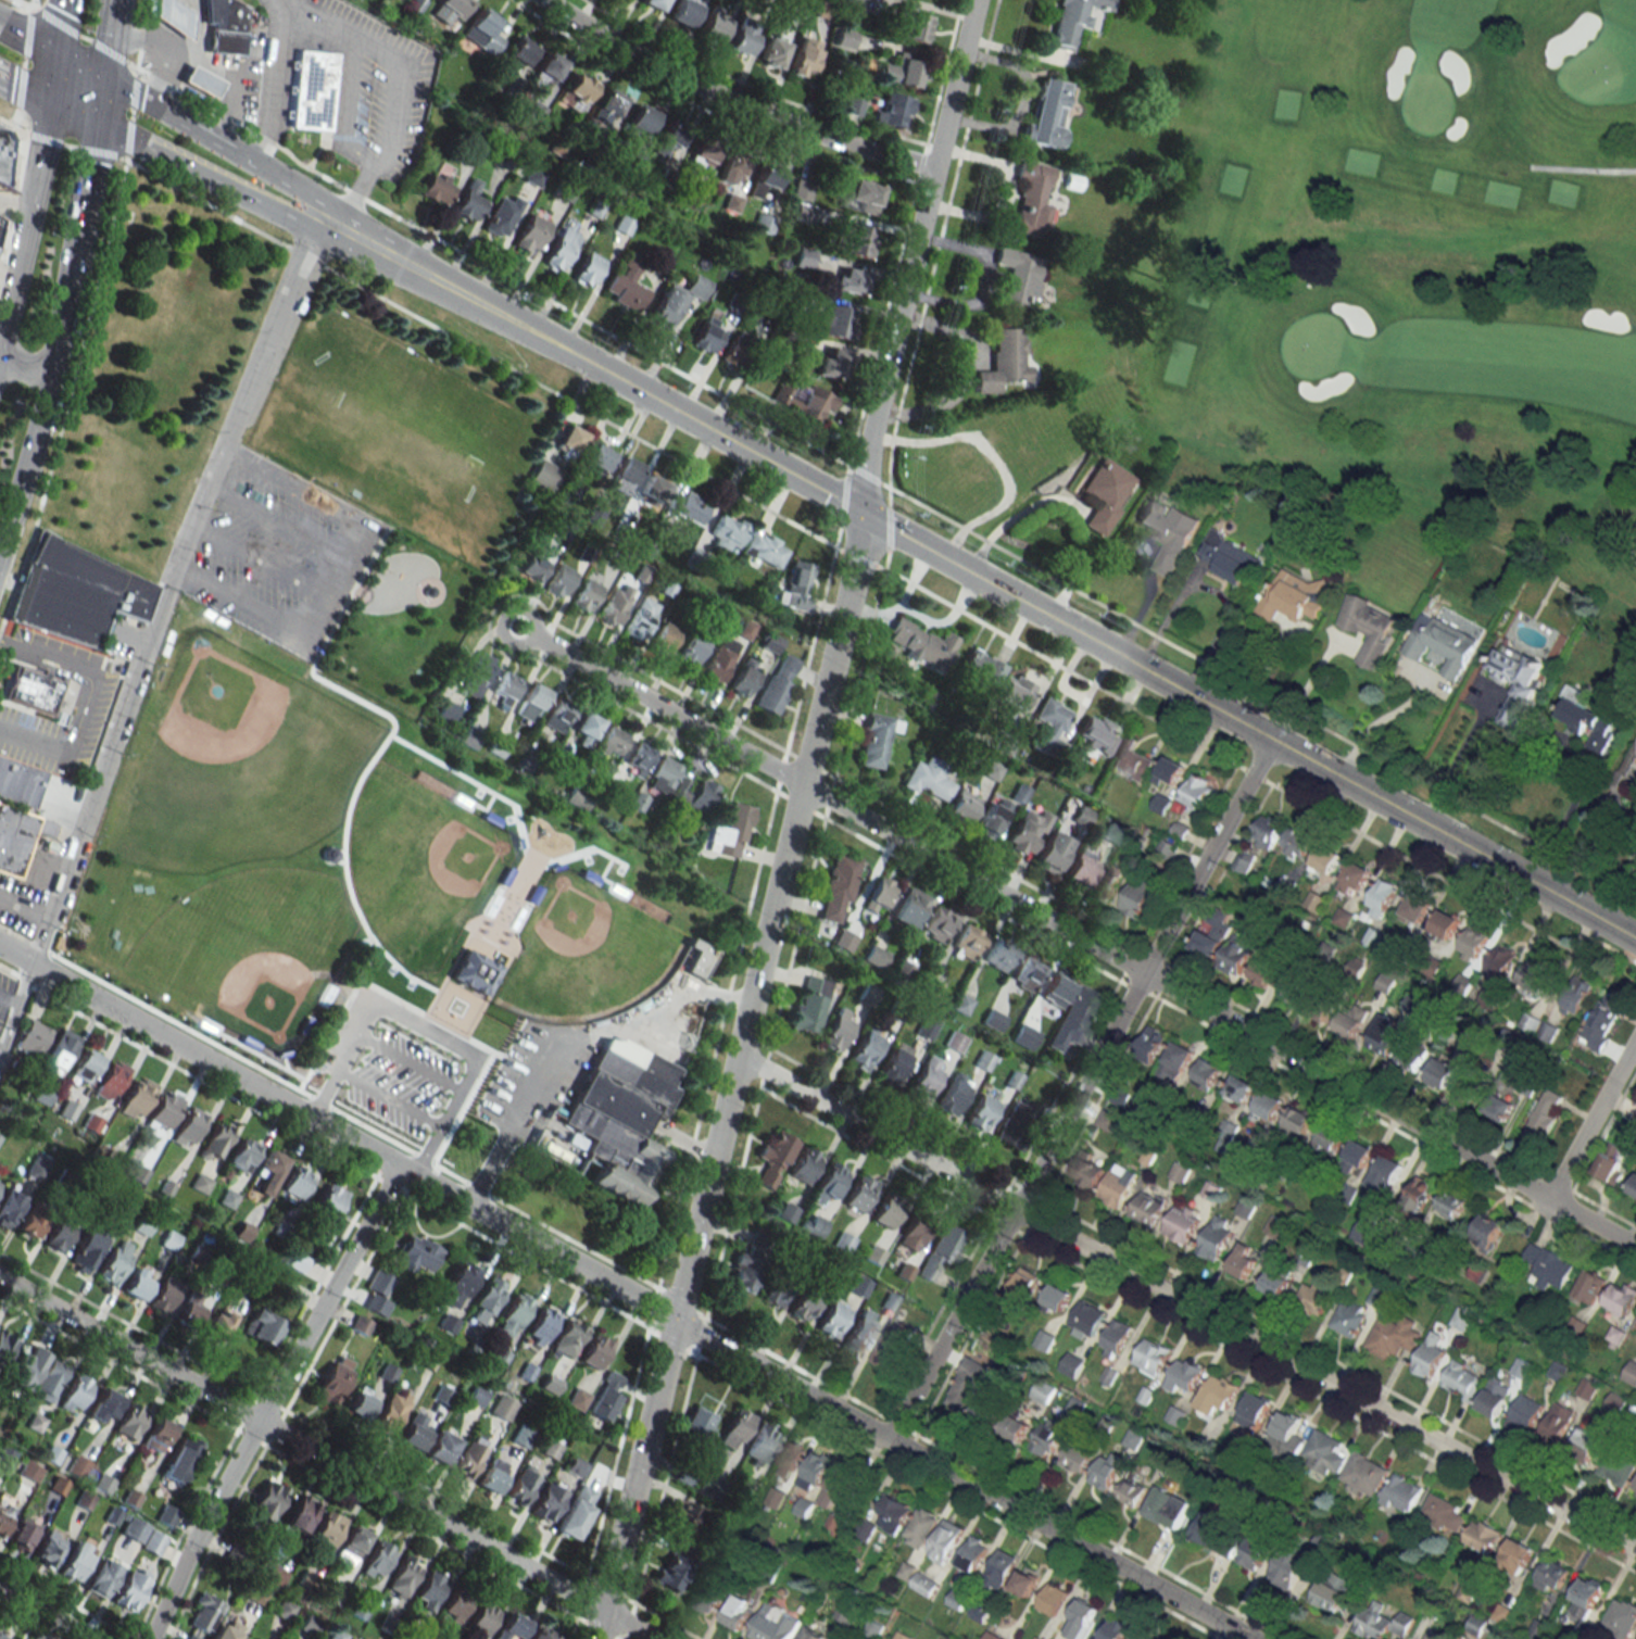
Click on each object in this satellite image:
road: (279, 1)
building: (856, 1)
building: (653, 3)
building: (451, 9)
building: (684, 12)
building: (794, 13)
building: (175, 17)
building: (1073, 20)
building: (714, 25)
building: (913, 26)
road: (58, 27)
building: (226, 27)
building: (483, 31)
road: (349, 36)
building: (845, 38)
road: (27, 39)
road: (108, 39)
building: (741, 40)
building: (520, 50)
building: (772, 52)
traffic signals: (54, 54)
building: (804, 55)
road: (78, 66)
building: (548, 67)
building: (899, 71)
road: (51, 78)
traffic signals: (102, 78)
building: (203, 83)
road: (24, 89)
building: (578, 89)
building: (312, 90)
road: (99, 101)
traffic signals: (48, 102)
road: (731, 102)
building: (853, 105)
building: (607, 106)
building: (893, 110)
road: (72, 113)
building: (1046, 114)
road: (169, 116)
building: (640, 121)
traffic signals: (96, 124)
road: (45, 127)
building: (669, 138)
road: (61, 142)
building: (704, 153)
building: (4, 154)
road: (1581, 166)
building: (731, 169)
building: (532, 175)
building: (765, 178)
road: (209, 180)
road: (288, 182)
building: (436, 188)
building: (864, 196)
building: (1032, 201)
building: (467, 202)
building: (804, 203)
building: (501, 214)
building: (764, 222)
building: (2, 225)
building: (529, 234)
building: (858, 240)
road: (20, 241)
building: (559, 248)
road: (377, 251)
road: (911, 255)
building: (803, 257)
park: (1408, 262)
road: (1225, 267)
building: (586, 268)
building: (1020, 274)
building: (847, 281)
building: (625, 286)
building: (672, 301)
building: (835, 320)
road: (55, 335)
building: (706, 336)
building: (734, 349)
building: (1004, 360)
road: (8, 363)
building: (829, 363)
road: (32, 370)
road: (961, 373)
road: (643, 394)
building: (802, 400)
park: (397, 427)
building: (1028, 447)
road: (991, 457)
building: (594, 462)
building: (621, 471)
building: (542, 475)
road: (292, 484)
building: (652, 488)
building: (1105, 494)
road: (1064, 500)
building: (687, 506)
traffic signals: (859, 513)
road: (275, 521)
building: (1169, 531)
building: (726, 532)
building: (764, 549)
parking lot: (279, 555)
building: (1232, 558)
road: (256, 562)
building: (530, 566)
road: (334, 579)
building: (557, 580)
road: (164, 585)
building: (795, 585)
road: (1215, 591)
building: (74, 594)
building: (584, 594)
building: (1294, 596)
road: (239, 601)
road: (1141, 602)
building: (612, 607)
building: (639, 618)
building: (1369, 628)
building: (664, 636)
building: (769, 641)
building: (1447, 641)
building: (921, 644)
building: (691, 650)
building: (719, 659)
building: (976, 669)
building: (475, 674)
building: (743, 677)
building: (1517, 680)
building: (777, 683)
building: (505, 684)
building: (32, 688)
road: (1301, 689)
building: (1014, 692)
building: (531, 698)
road: (87, 702)
building: (445, 711)
building: (555, 715)
building: (1586, 720)
road: (1381, 722)
building: (1048, 724)
road: (1247, 726)
building: (586, 727)
building: (1096, 733)
building: (874, 739)
building: (611, 742)
building: (498, 745)
building: (637, 757)
road: (1455, 757)
building: (1132, 758)
park: (234, 765)
building: (1173, 769)
building: (1626, 772)
building: (662, 776)
building: (927, 780)
building: (17, 782)
building: (1199, 792)
building: (695, 796)
building: (960, 805)
park: (400, 810)
building: (990, 817)
building: (1181, 824)
building: (1025, 830)
road: (1558, 830)
building: (729, 832)
building: (1268, 832)
building: (17, 836)
building: (1298, 843)
building: (1050, 852)
building: (1327, 859)
park: (418, 867)
building: (1080, 867)
building: (1355, 875)
building: (1110, 879)
building: (836, 887)
road: (1619, 891)
building: (878, 895)
building: (1382, 896)
building: (1138, 897)
building: (1316, 902)
road: (24, 905)
building: (907, 907)
building: (1414, 909)
building: (936, 923)
building: (1445, 925)
road: (1066, 932)
building: (1212, 935)
building: (966, 941)
building: (1472, 944)
park: (248, 951)
park: (579, 953)
building: (1237, 955)
building: (874, 956)
building: (996, 956)
building: (696, 958)
building: (1501, 961)
building: (1267, 966)
building: (902, 970)
building: (473, 971)
building: (1025, 972)
building: (1535, 979)
building: (930, 986)
building: (1055, 989)
building: (1295, 991)
road: (10, 993)
building: (1577, 996)
building: (809, 1004)
building: (960, 1004)
building: (1324, 1005)
road: (15, 1009)
building: (1352, 1019)
building: (992, 1020)
building: (1071, 1020)
building: (1602, 1021)
building: (924, 1026)
building: (838, 1029)
road: (426, 1032)
building: (1384, 1033)
building: (1023, 1036)
building: (33, 1037)
building: (954, 1042)
road: (2, 1043)
building: (1150, 1045)
building: (60, 1049)
building: (865, 1049)
building: (1412, 1058)
road: (734, 1061)
building: (895, 1061)
building: (1178, 1061)
building: (85, 1066)
building: (1442, 1073)
building: (1208, 1074)
building: (926, 1076)
building: (111, 1080)
building: (1472, 1084)
building: (1241, 1088)
road: (1080, 1089)
building: (953, 1094)
building: (137, 1097)
building: (1118, 1097)
building: (1269, 1106)
building: (1500, 1106)
building: (164, 1110)
building: (980, 1112)
building: (1546, 1114)
building: (620, 1117)
building: (1108, 1120)
road: (1593, 1120)
building: (1299, 1121)
building: (91, 1122)
building: (188, 1127)
building: (1012, 1129)
building: (1330, 1138)
building: (215, 1140)
building: (242, 1153)
building: (1359, 1155)
building: (772, 1156)
building: (1614, 1162)
building: (803, 1164)
building: (37, 1167)
building: (1087, 1169)
building: (266, 1172)
building: (1385, 1174)
building: (0, 1178)
building: (295, 1182)
building: (828, 1184)
building: (1118, 1185)
building: (1634, 1188)
building: (1421, 1192)
building: (859, 1193)
building: (328, 1201)
building: (1450, 1205)
building: (9, 1206)
building: (1148, 1208)
building: (1246, 1208)
building: (888, 1210)
building: (33, 1221)
building: (1182, 1223)
building: (811, 1225)
building: (1276, 1225)
building: (1488, 1231)
building: (59, 1235)
building: (1217, 1237)
building: (908, 1239)
building: (843, 1241)
building: (88, 1247)
building: (941, 1250)
building: (417, 1253)
building: (1245, 1260)
building: (115, 1261)
building: (1549, 1268)
building: (743, 1272)
building: (137, 1284)
building: (1027, 1284)
building: (1276, 1284)
building: (458, 1285)
building: (1590, 1285)
building: (858, 1286)
road: (624, 1290)
building: (377, 1291)
building: (773, 1293)
building: (164, 1296)
building: (1058, 1297)
building: (1622, 1297)
building: (1313, 1298)
building: (486, 1300)
road: (1186, 1303)
building: (803, 1304)
building: (190, 1312)
building: (513, 1314)
building: (1349, 1317)
building: (831, 1320)
building: (1086, 1320)
building: (217, 1323)
building: (358, 1324)
building: (540, 1326)
building: (262, 1327)
building: (860, 1331)
building: (1393, 1336)
building: (1117, 1338)
building: (566, 1339)
building: (1045, 1339)
building: (4, 1345)
building: (894, 1345)
building: (594, 1350)
building: (1153, 1356)
building: (1430, 1358)
building: (25, 1367)
building: (1631, 1373)
building: (1184, 1376)
building: (334, 1379)
building: (1463, 1379)
building: (49, 1380)
building: (969, 1383)
building: (1588, 1388)
building: (75, 1394)
building: (1218, 1395)
building: (476, 1396)
building: (606, 1396)
building: (1496, 1397)
building: (577, 1399)
road: (269, 1400)
building: (361, 1402)
building: (104, 1405)
building: (502, 1408)
building: (392, 1409)
building: (989, 1410)
building: (1254, 1411)
building: (1527, 1412)
building: (697, 1421)
building: (129, 1422)
building: (1558, 1422)
building: (1016, 1427)
building: (734, 1429)
building: (413, 1432)
building: (156, 1434)
building: (521, 1435)
building: (1286, 1436)
building: (1048, 1438)
building: (1134, 1439)
building: (1586, 1442)
building: (760, 1443)
building: (439, 1447)
building: (1325, 1453)
building: (5, 1457)
building: (468, 1457)
road: (326, 1458)
building: (790, 1458)
building: (1078, 1458)
building: (181, 1459)
building: (574, 1466)
building: (815, 1470)
building: (1107, 1470)
building: (1616, 1470)
building: (29, 1471)
building: (492, 1475)
building: (1364, 1475)
building: (843, 1484)
building: (521, 1486)
building: (1133, 1492)
building: (1635, 1492)
building: (1402, 1493)
building: (268, 1500)
building: (548, 1500)
building: (1166, 1505)
building: (576, 1511)
building: (894, 1513)
building: (1445, 1513)
building: (166, 1514)
building: (301, 1514)
building: (4, 1515)
building: (688, 1520)
building: (921, 1527)
building: (134, 1529)
building: (326, 1530)
building: (22, 1533)
building: (1216, 1535)
building: (1484, 1535)
building: (153, 1541)
building: (946, 1541)
building: (350, 1546)
building: (48, 1548)
building: (1255, 1552)
building: (974, 1553)
building: (232, 1554)
building: (1518, 1554)
building: (377, 1560)
building: (76, 1561)
building: (1002, 1568)
building: (1288, 1569)
building: (670, 1573)
building: (1552, 1574)
building: (274, 1575)
building: (101, 1577)
building: (402, 1577)
building: (1024, 1583)
building: (926, 1585)
building: (130, 1588)
building: (429, 1590)
building: (1334, 1592)
building: (710, 1597)
building: (1586, 1597)
building: (1053, 1599)
building: (455, 1605)
building: (740, 1611)
building: (203, 1613)
road: (45, 1614)
building: (1083, 1614)
building: (483, 1617)
building: (1621, 1618)
building: (1383, 1622)
road: (599, 1624)
building: (775, 1624)
building: (1476, 1625)
building: (512, 1627)
building: (1113, 1629)
building: (226, 1630)
building: (540, 1634)
building: (809, 1635)
building: (1433, 1635)
building: (0, 1636)
building: (1142, 1636)
building: (250, 1637)

